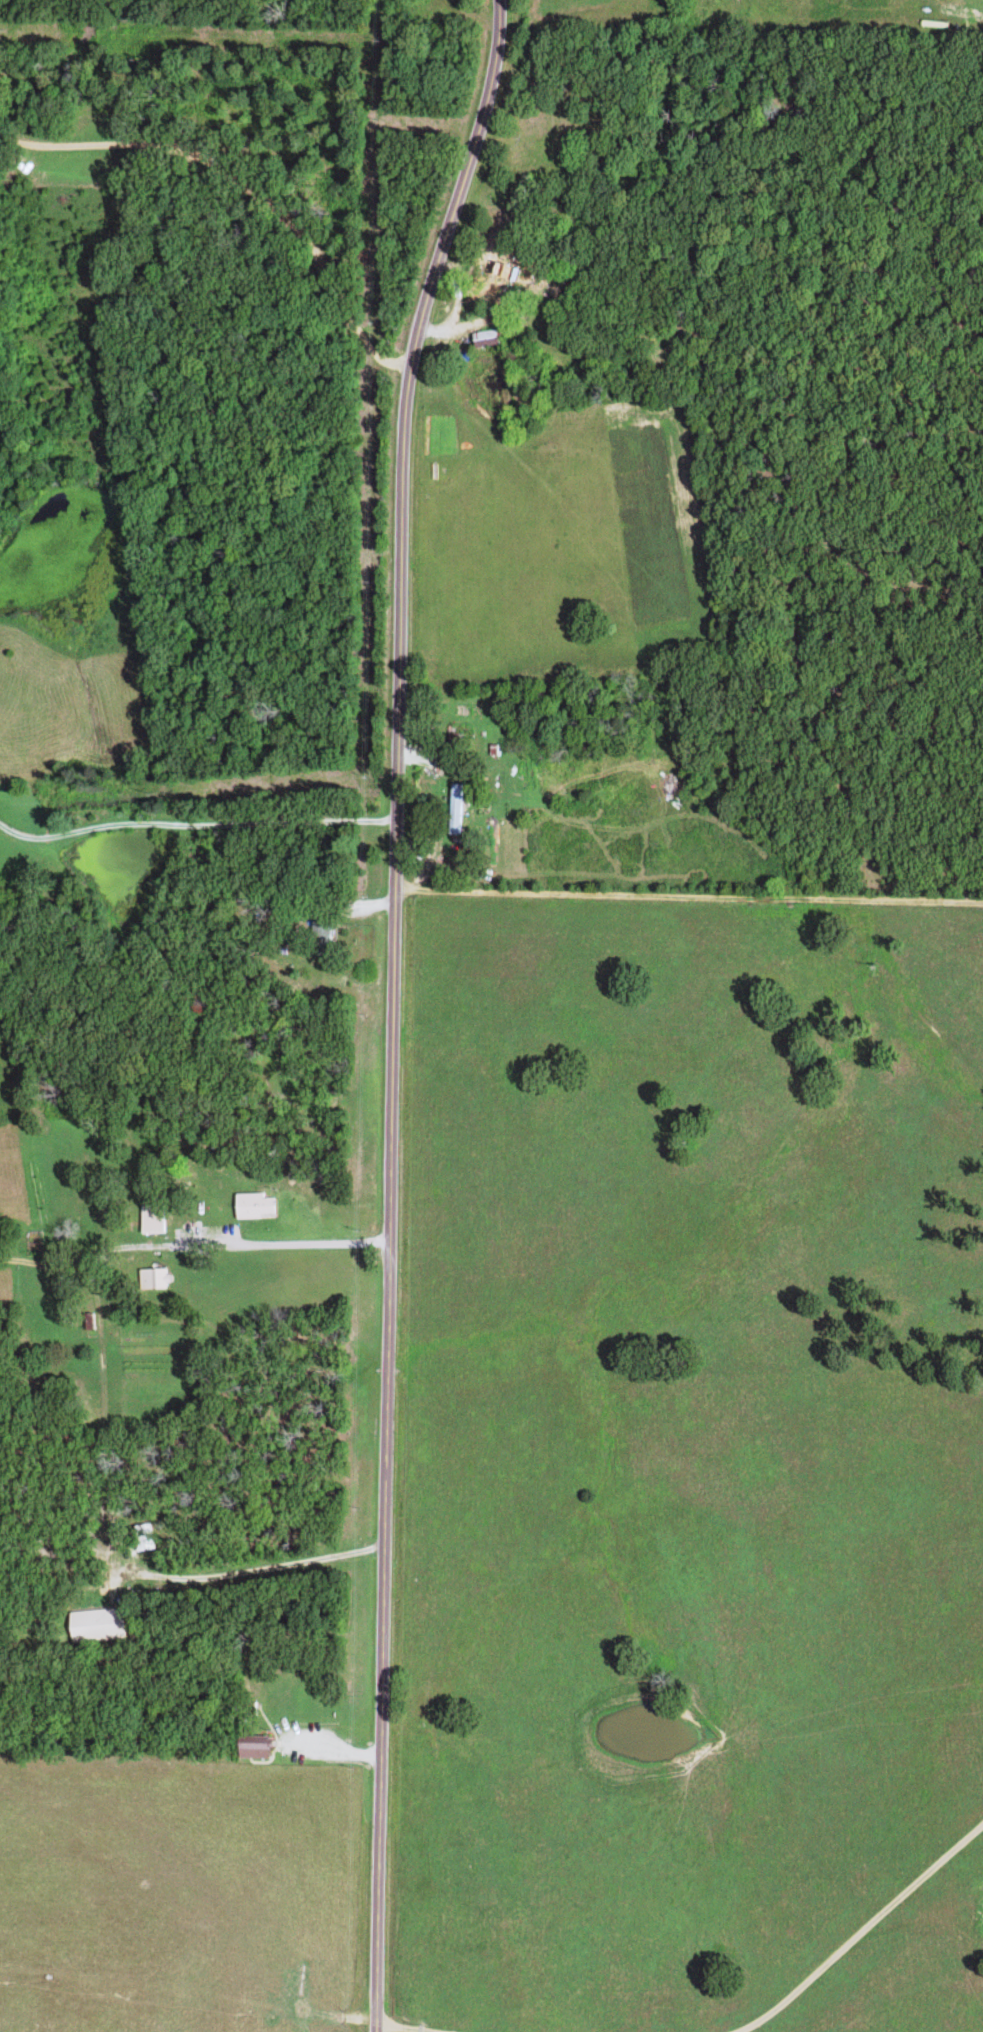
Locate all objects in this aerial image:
building: (489, 338)
building: (460, 808)
road: (222, 831)
road: (689, 899)
road: (392, 1009)
building: (259, 1204)
building: (159, 1277)

